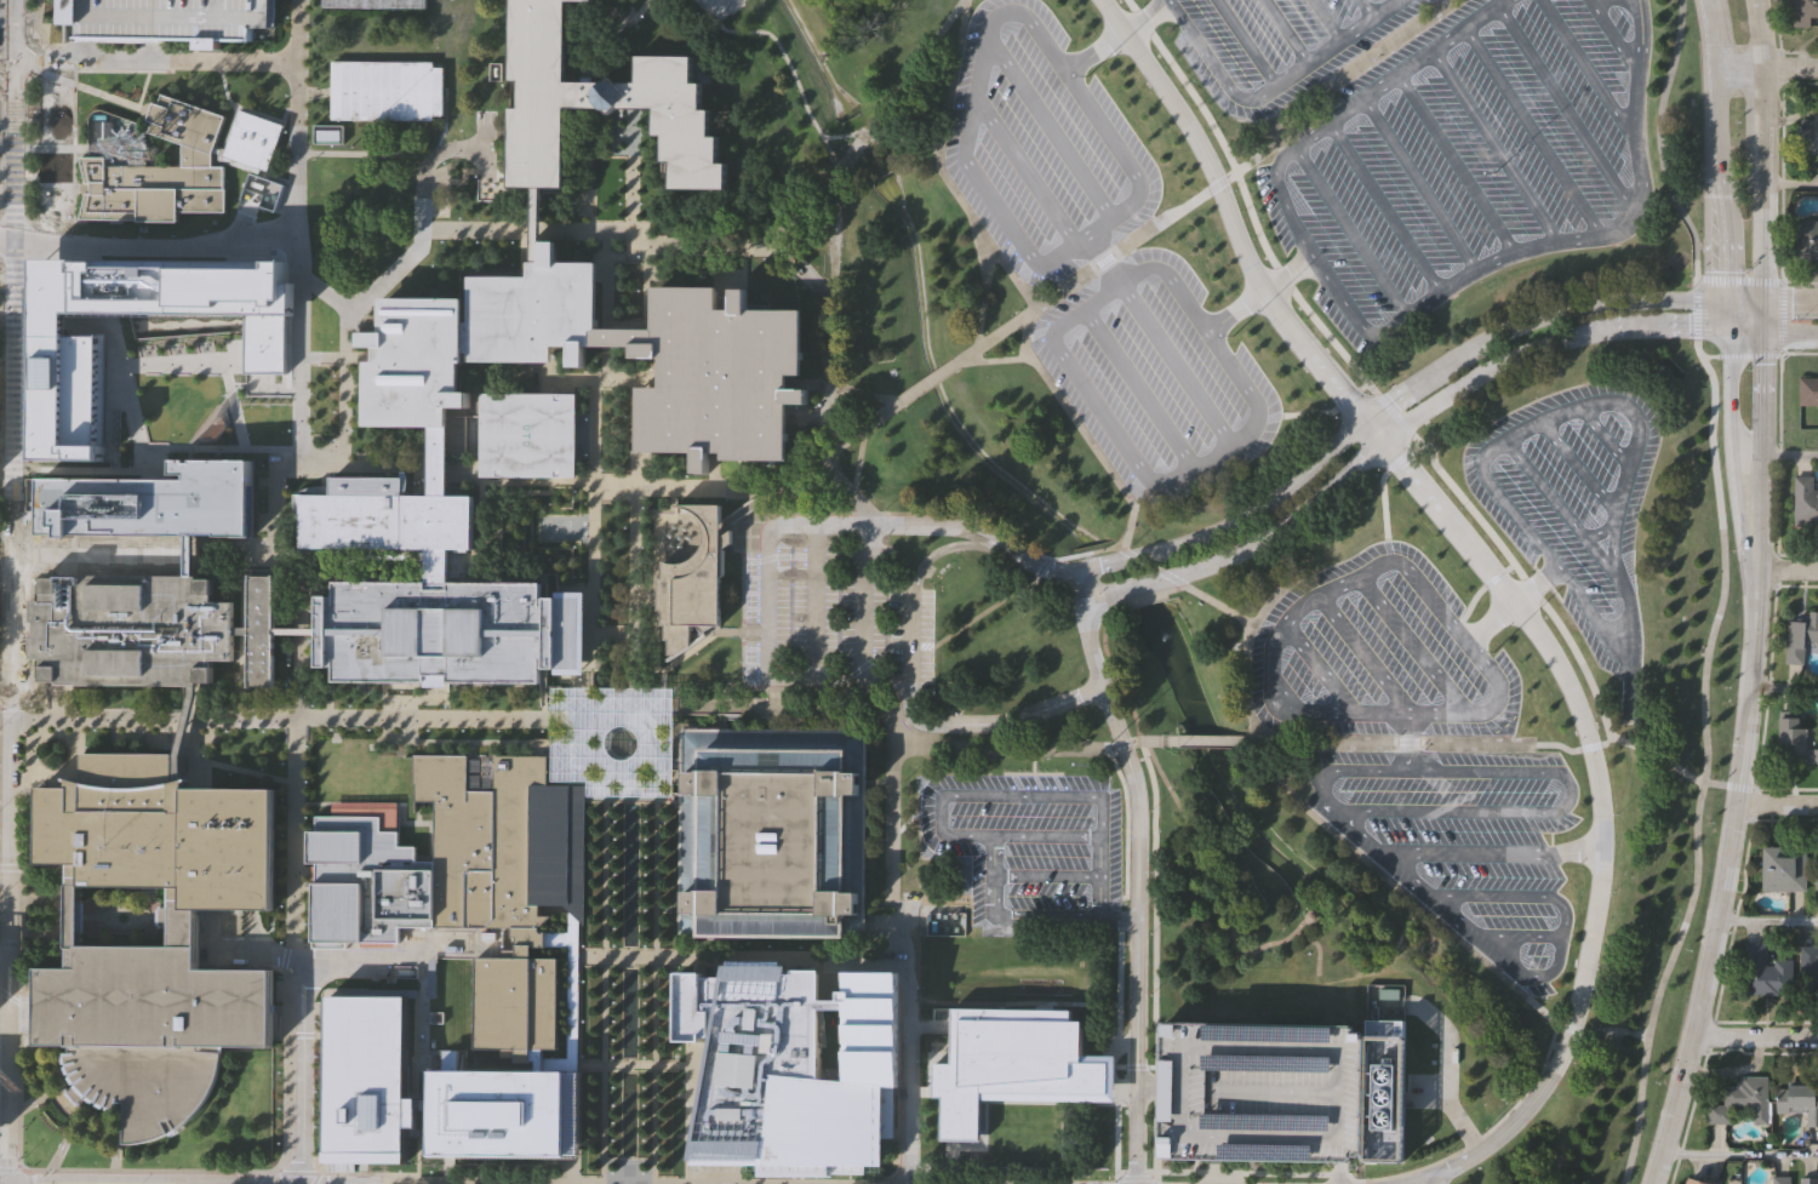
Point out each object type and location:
road: (732, 2)
building: (371, 4)
parking lot: (718, 7)
road: (1368, 8)
road: (1711, 10)
building: (1805, 13)
building: (168, 18)
parking lot: (168, 18)
road: (1327, 19)
road: (1287, 30)
street lamp: (27, 34)
road: (607, 34)
road: (1117, 35)
road: (1614, 36)
road: (1245, 42)
road: (1337, 42)
road: (1717, 42)
road: (984, 56)
road: (156, 59)
road: (1214, 65)
road: (1768, 68)
road: (1589, 72)
road: (1401, 73)
building: (381, 91)
road: (310, 93)
road: (7, 96)
road: (1721, 97)
building: (600, 105)
parking lot: (1119, 110)
road: (1567, 110)
road: (296, 115)
road: (867, 127)
road: (1051, 127)
road: (1534, 131)
road: (881, 135)
building: (1808, 136)
building: (252, 139)
road: (1782, 139)
road: (1659, 143)
road: (484, 144)
road: (1723, 144)
road: (1496, 145)
road: (1765, 150)
road: (366, 151)
road: (436, 153)
road: (1457, 164)
road: (939, 167)
road: (1027, 171)
building: (161, 172)
road: (1420, 184)
road: (1213, 185)
road: (1791, 185)
road: (1384, 207)
parking lot: (439, 208)
road: (836, 210)
road: (422, 212)
building: (536, 223)
parking lot: (1372, 224)
road: (1623, 229)
road: (1350, 230)
road: (1727, 230)
road: (607, 234)
road: (147, 235)
road: (421, 240)
street lamp: (444, 241)
building: (1806, 241)
street lamp: (479, 242)
street lamp: (514, 242)
road: (625, 253)
road: (1316, 261)
street lamp: (513, 264)
street lamp: (434, 265)
road: (1738, 281)
road: (1799, 281)
road: (322, 293)
road: (984, 298)
road: (1746, 301)
road: (1789, 302)
road: (646, 303)
road: (1696, 311)
road: (1732, 315)
road: (1762, 316)
road: (1779, 318)
building: (206, 325)
road: (1774, 332)
building: (474, 334)
building: (622, 334)
building: (67, 343)
road: (298, 347)
road: (1706, 355)
road: (1746, 355)
road: (337, 358)
road: (991, 359)
road: (172, 361)
road: (1178, 365)
road: (109, 374)
building: (720, 376)
road: (928, 382)
road: (231, 383)
road: (271, 383)
road: (1139, 388)
road: (1408, 389)
building: (1808, 391)
road: (867, 394)
road: (1349, 395)
road: (234, 404)
road: (127, 405)
road: (1623, 405)
road: (1416, 411)
road: (1308, 413)
road: (1395, 413)
street lamp: (353, 430)
building: (526, 430)
road: (1082, 431)
road: (1603, 434)
road: (1761, 434)
road: (1733, 435)
road: (634, 454)
road: (1776, 454)
road: (1402, 456)
road: (1777, 457)
street lamp: (462, 458)
building: (439, 459)
road: (858, 461)
road: (415, 463)
road: (816, 464)
street lamp: (264, 465)
road: (1578, 468)
road: (159, 470)
road: (1144, 470)
road: (837, 475)
street lamp: (287, 486)
road: (686, 487)
street lamp: (264, 501)
building: (153, 502)
building: (1806, 503)
road: (1383, 504)
street lamp: (601, 508)
road: (865, 508)
road: (1566, 514)
building: (383, 516)
road: (928, 524)
street lamp: (624, 527)
road: (1599, 531)
street lamp: (601, 540)
street lamp: (261, 542)
street lamp: (574, 547)
road: (947, 547)
road: (593, 548)
road: (1093, 551)
road: (288, 553)
road: (1136, 553)
road: (1756, 553)
building: (189, 555)
parking lot: (1578, 556)
road: (1613, 557)
street lamp: (551, 560)
road: (1553, 562)
road: (6, 564)
road: (1108, 565)
building: (438, 566)
road: (1156, 566)
road: (1786, 570)
road: (1088, 571)
street lamp: (601, 574)
street lamp: (467, 576)
road: (1497, 576)
street lamp: (574, 577)
road: (1174, 577)
road: (1497, 579)
building: (692, 582)
road: (1536, 584)
road: (1098, 585)
road: (1126, 588)
road: (1177, 589)
road: (12, 590)
road: (1002, 596)
road: (1143, 597)
road: (1470, 604)
road: (765, 605)
road: (813, 606)
road: (863, 606)
street lamp: (600, 607)
street lamp: (310, 611)
parking lot: (835, 616)
building: (131, 629)
building: (242, 629)
building: (261, 630)
building: (296, 630)
road: (742, 630)
building: (448, 631)
road: (613, 633)
building: (1800, 640)
street lamp: (309, 641)
road: (1413, 645)
road: (1247, 647)
road: (296, 651)
road: (1365, 653)
road: (1273, 659)
street lamp: (600, 662)
road: (1320, 668)
street lamp: (35, 680)
road: (836, 688)
road: (1784, 690)
street lamp: (402, 692)
street lamp: (176, 704)
street lamp: (313, 705)
street lamp: (350, 707)
street lamp: (447, 707)
road: (25, 708)
street lamp: (482, 708)
street lamp: (516, 708)
street lamp: (550, 709)
road: (863, 710)
building: (185, 717)
road: (331, 720)
road: (944, 722)
street lamp: (59, 730)
street lamp: (95, 730)
street lamp: (133, 730)
street lamp: (333, 730)
street lamp: (371, 730)
street lamp: (162, 731)
street lamp: (264, 731)
street lamp: (429, 731)
street lamp: (464, 731)
street lamp: (499, 731)
street lamp: (543, 731)
street lamp: (228, 732)
road: (1171, 739)
road: (1202, 739)
building: (614, 740)
road: (1410, 740)
road: (458, 742)
road: (1314, 742)
road: (573, 743)
road: (1408, 743)
road: (1505, 743)
road: (1605, 743)
building: (1795, 744)
road: (1029, 745)
street lamp: (308, 747)
street lamp: (86, 748)
street lamp: (166, 748)
road: (193, 751)
street lamp: (205, 756)
road: (578, 757)
street lamp: (284, 763)
road: (1705, 763)
road: (244, 770)
street lamp: (263, 771)
park: (361, 773)
road: (1562, 774)
street lamp: (308, 783)
road: (1730, 785)
road: (943, 796)
road: (631, 799)
street lamp: (282, 800)
road: (590, 801)
street lamp: (613, 805)
street lamp: (646, 805)
road: (1776, 807)
building: (370, 814)
street lamp: (307, 818)
street lamp: (646, 820)
street lamp: (614, 822)
building: (772, 830)
street lamp: (282, 835)
building: (158, 837)
road: (293, 837)
street lamp: (614, 839)
street lamp: (646, 839)
parking lot: (1464, 841)
parking lot: (1030, 846)
road: (1491, 852)
road: (5, 857)
street lamp: (613, 857)
street lamp: (646, 857)
road: (304, 869)
building: (1782, 870)
street lamp: (282, 871)
road: (1402, 871)
building: (1816, 871)
street lamp: (614, 874)
road: (1047, 875)
road: (1100, 877)
road: (1137, 877)
road: (1220, 879)
road: (1723, 880)
street lamp: (305, 883)
building: (367, 883)
road: (1156, 883)
building: (507, 885)
park: (1227, 885)
street lamp: (613, 892)
street lamp: (645, 892)
road: (1401, 892)
road: (1515, 896)
street lamp: (282, 906)
street lamp: (613, 910)
street lamp: (645, 910)
road: (1022, 919)
building: (945, 923)
street lamp: (307, 925)
road: (1767, 925)
street lamp: (614, 928)
street lamp: (645, 928)
street lamp: (282, 943)
street lamp: (583, 946)
street lamp: (614, 946)
street lamp: (646, 946)
road: (1317, 948)
road: (5, 953)
road: (743, 956)
road: (339, 957)
road: (284, 959)
road: (1559, 959)
road: (1120, 960)
building: (1762, 971)
building: (1810, 971)
street lamp: (583, 982)
street lamp: (614, 984)
street lamp: (645, 984)
road: (576, 993)
building: (572, 1002)
street lamp: (614, 1003)
street lamp: (646, 1003)
road: (417, 1020)
street lamp: (316, 1022)
street lamp: (583, 1022)
street lamp: (646, 1022)
street lamp: (614, 1023)
building: (149, 1029)
road: (1574, 1029)
road: (1617, 1030)
road: (1755, 1039)
street lamp: (613, 1041)
street lamp: (645, 1041)
road: (910, 1049)
street lamp: (316, 1057)
street lamp: (582, 1057)
street lamp: (613, 1058)
street lamp: (645, 1058)
road: (291, 1064)
road: (633, 1064)
building: (1013, 1065)
road: (1134, 1066)
building: (793, 1069)
road: (305, 1070)
building: (1383, 1070)
road: (1448, 1071)
building: (366, 1075)
road: (56, 1079)
street lamp: (613, 1088)
street lamp: (645, 1088)
road: (41, 1089)
road: (1149, 1089)
building: (1262, 1089)
parking lot: (1262, 1089)
street lamp: (318, 1092)
building: (1748, 1097)
road: (17, 1098)
road: (68, 1098)
building: (1800, 1099)
street lamp: (645, 1105)
street lamp: (613, 1106)
road: (61, 1109)
building: (503, 1112)
street lamp: (613, 1123)
street lamp: (645, 1123)
road: (690, 1123)
street lamp: (316, 1127)
road: (67, 1134)
street lamp: (613, 1142)
street lamp: (645, 1142)
road: (62, 1145)
road: (56, 1152)
road: (1739, 1155)
road: (5, 1159)
road: (630, 1159)
road: (115, 1165)
road: (145, 1171)
road: (1336, 1171)
street lamp: (401, 1173)
street lamp: (433, 1173)
street lamp: (613, 1174)
street lamp: (645, 1174)
road: (1390, 1177)
road: (1137, 1178)
building: (1784, 1179)
road: (1119, 1180)
road: (1156, 1180)
building: (1811, 1180)
building: (1698, 1182)
road: (11, 1183)
road: (190, 1183)
road: (360, 1183)

